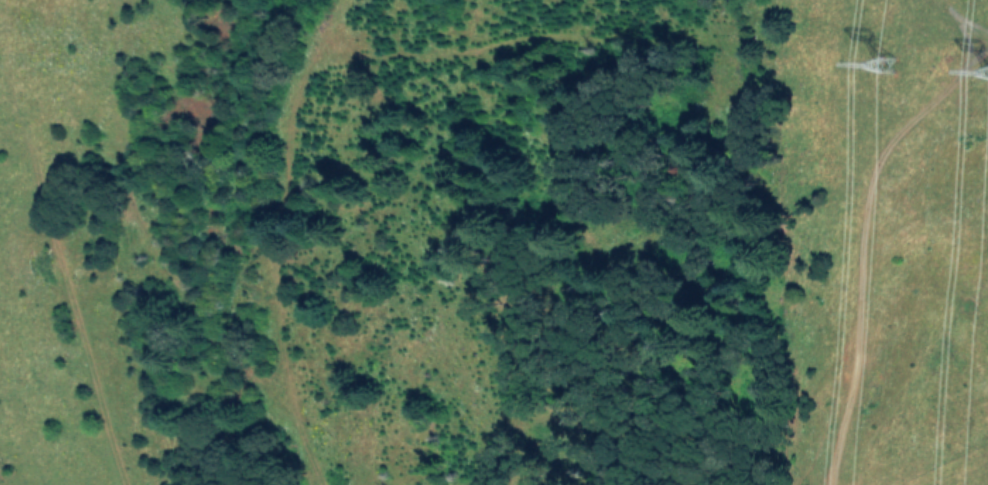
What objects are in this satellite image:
power tower: (890, 83)

